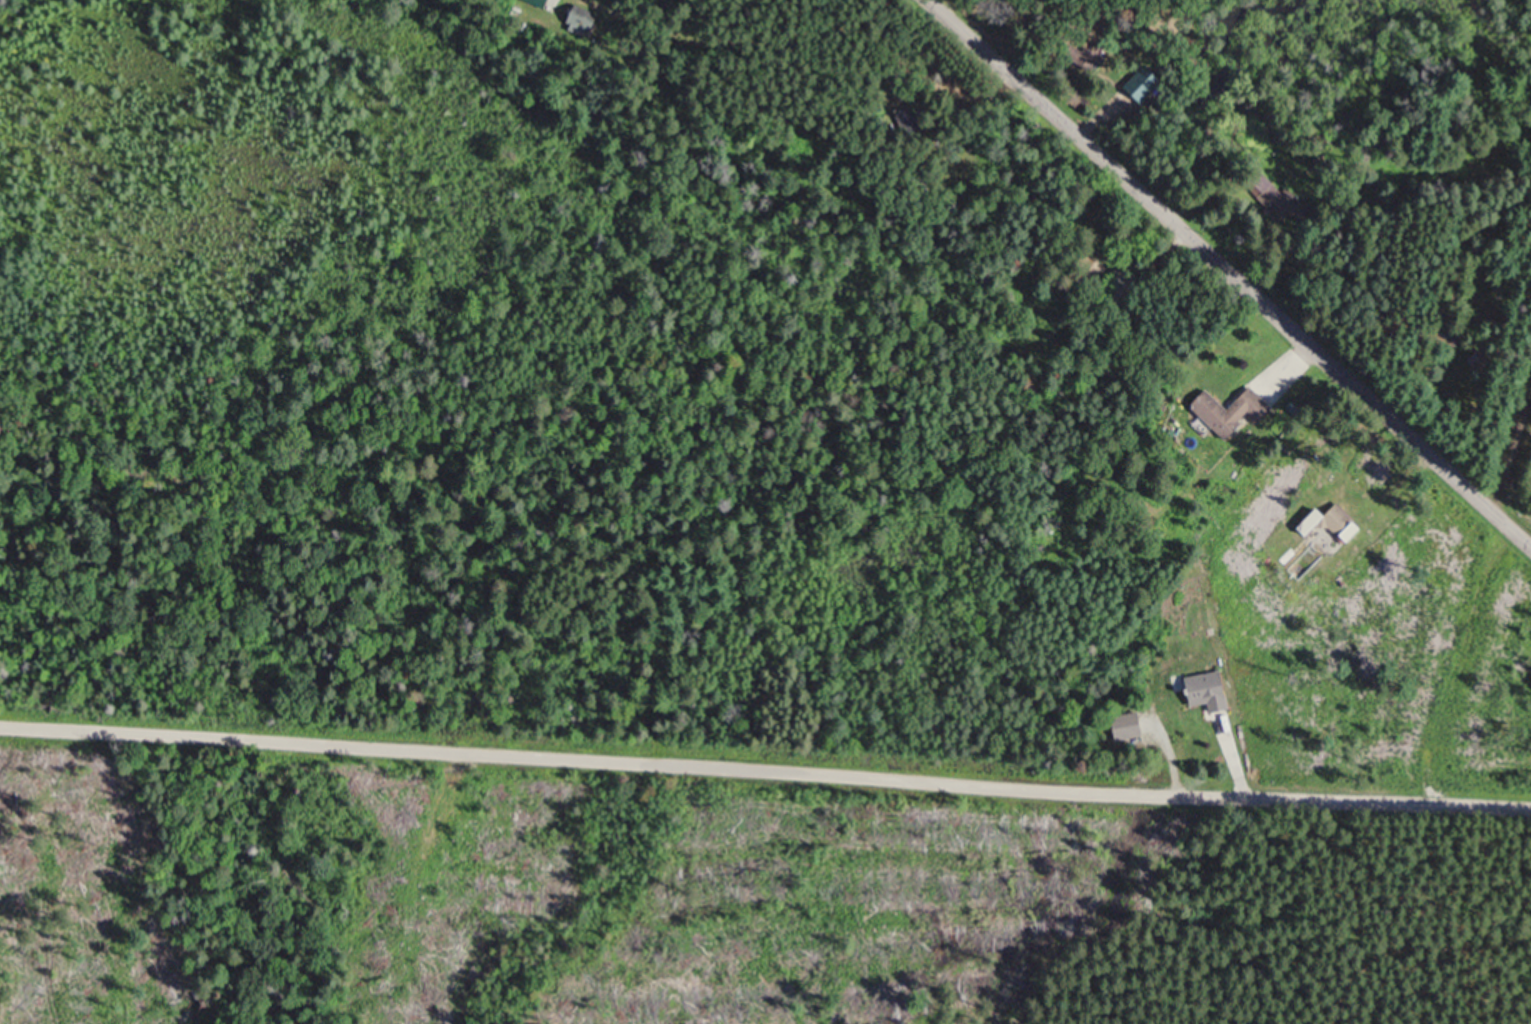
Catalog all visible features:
building: (1129, 105)
road: (1228, 274)
building: (1477, 361)
building: (1233, 412)
road: (1520, 489)
building: (1333, 528)
building: (1210, 692)
road: (1233, 768)
road: (765, 769)

